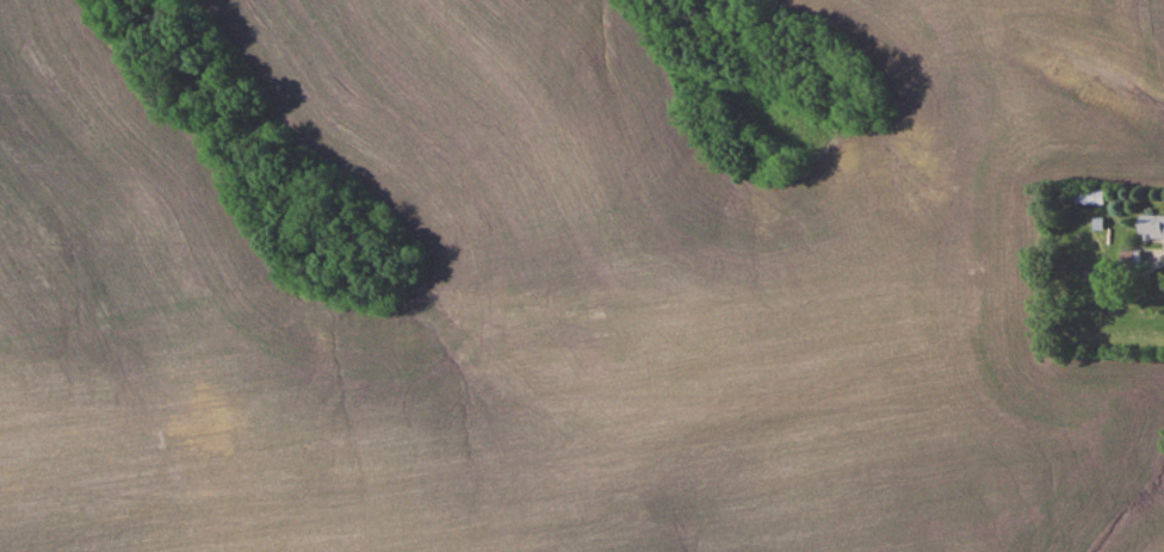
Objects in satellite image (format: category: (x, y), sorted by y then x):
building: (1088, 193)
building: (1150, 222)

